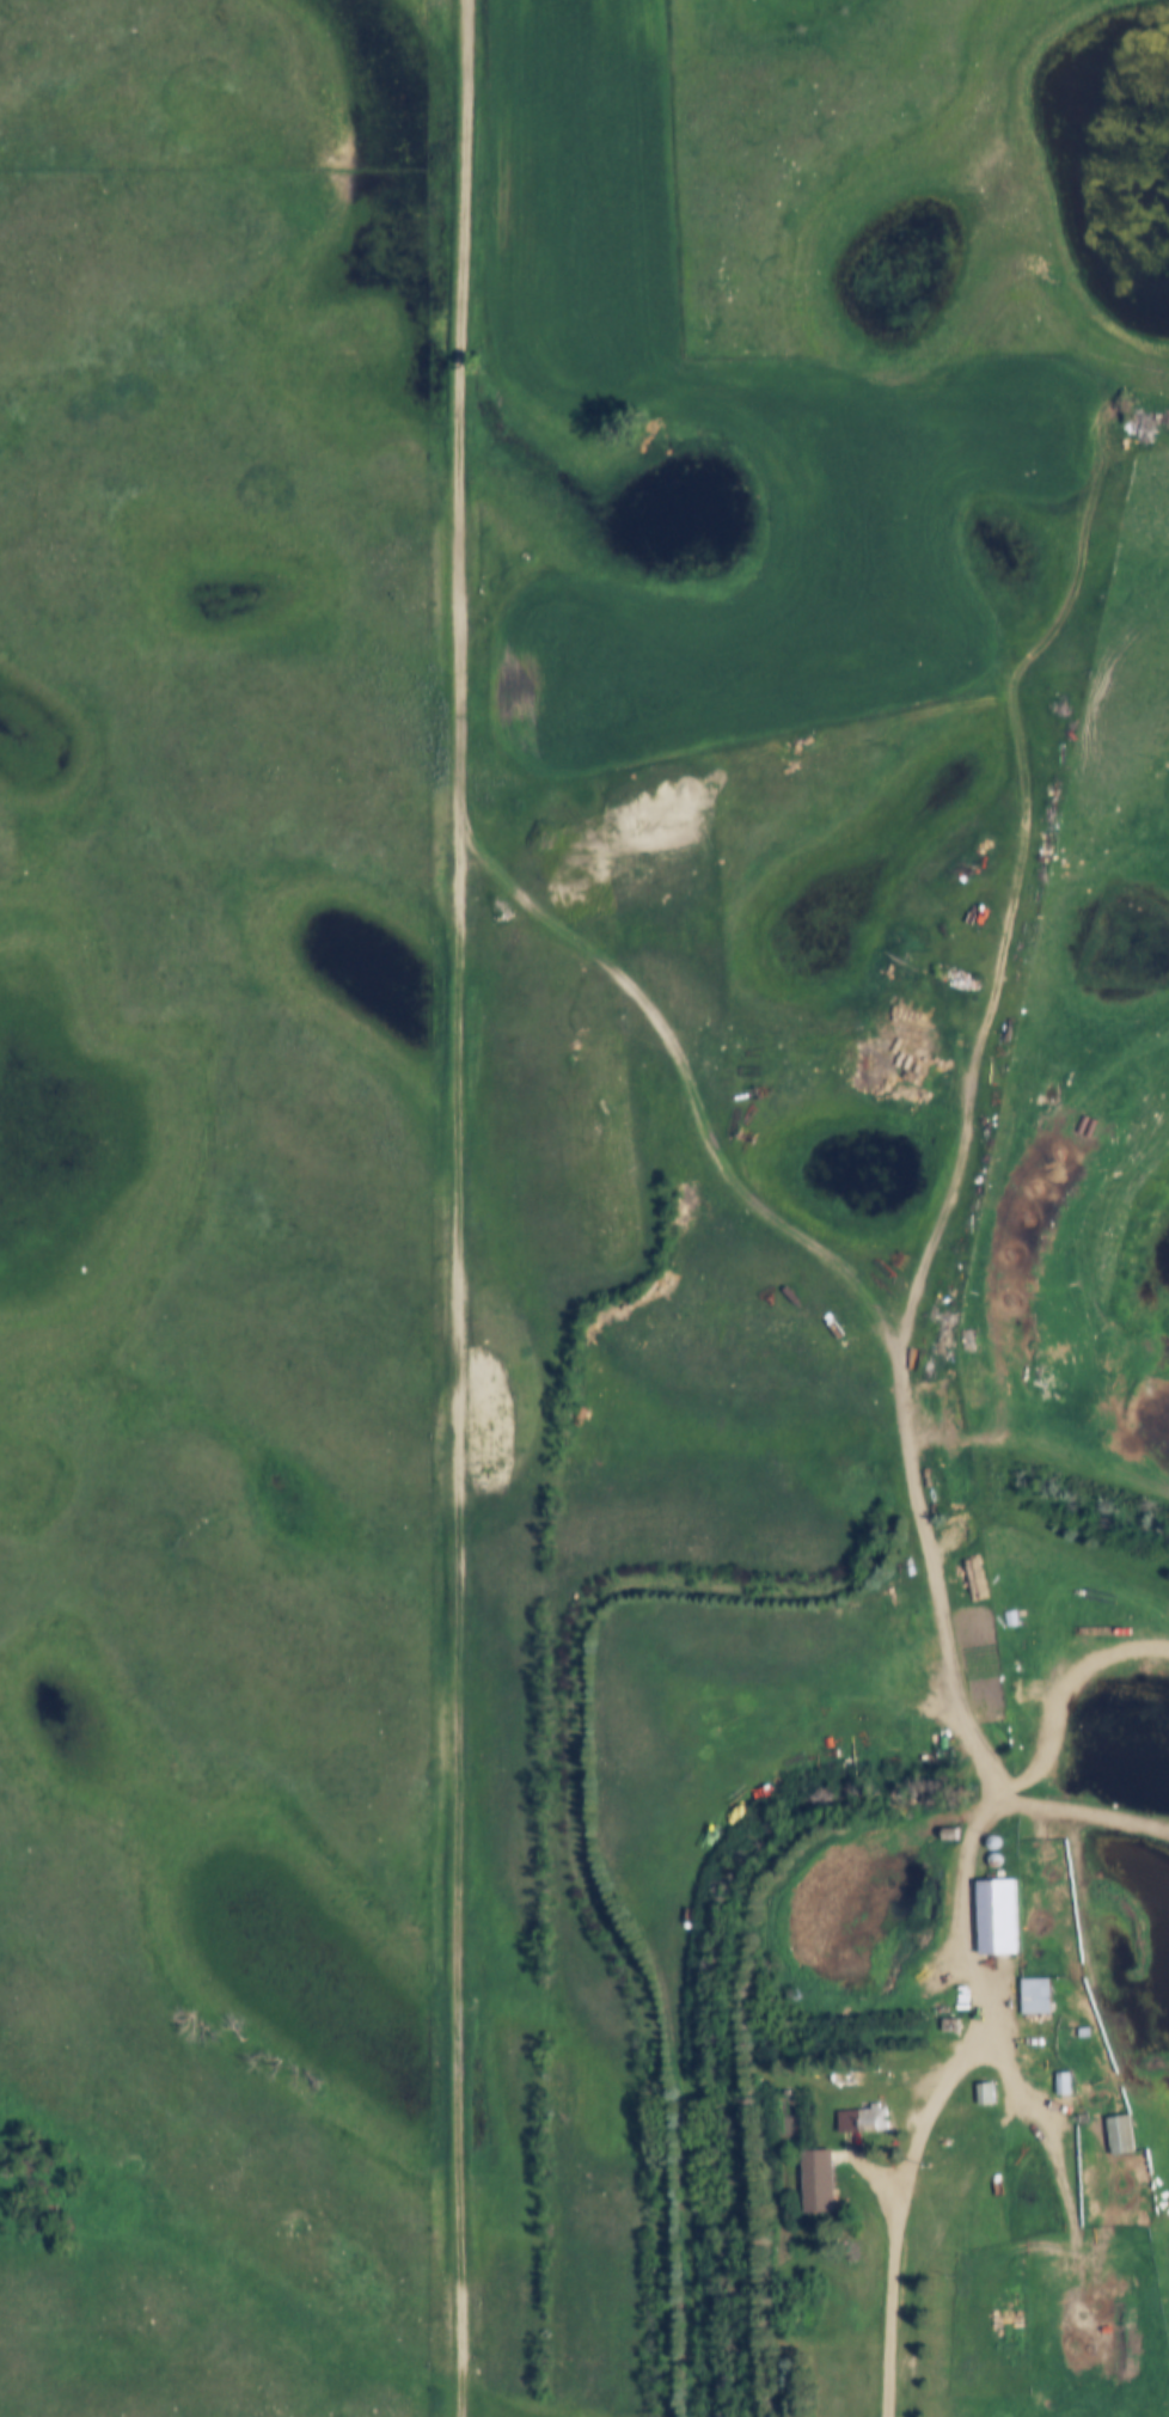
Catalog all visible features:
road: (452, 1207)
road: (930, 1237)
building: (996, 1917)
road: (973, 1981)
building: (1035, 2026)
building: (1063, 2082)
building: (985, 2093)
building: (864, 2119)
building: (1120, 2134)
building: (818, 2180)

